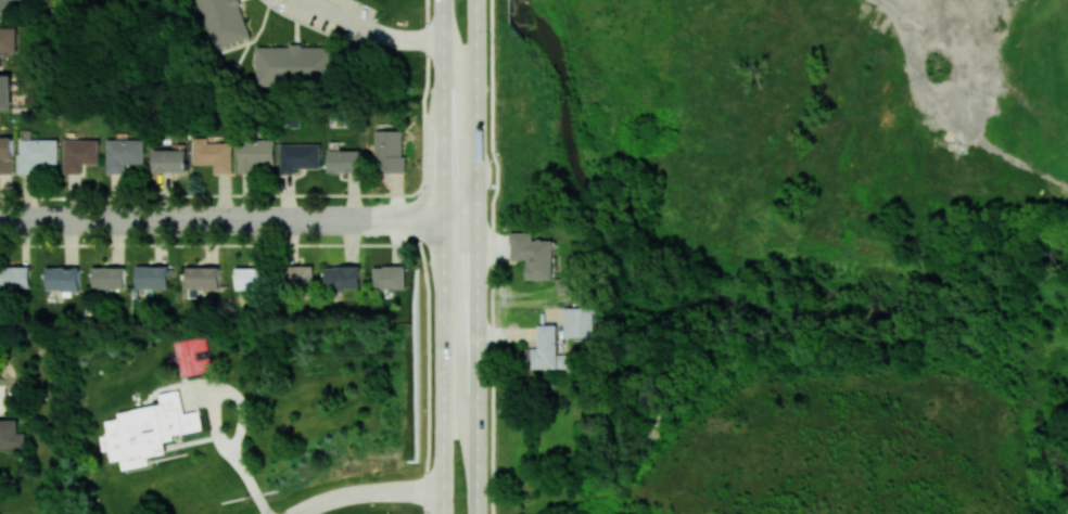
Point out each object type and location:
building: (9, 4)
road: (476, 14)
building: (221, 21)
road: (373, 30)
park: (1008, 31)
building: (8, 39)
road: (936, 39)
building: (294, 64)
building: (5, 91)
road: (476, 114)
building: (389, 150)
park: (770, 150)
building: (7, 153)
building: (79, 153)
building: (124, 153)
building: (38, 154)
building: (214, 154)
building: (256, 155)
building: (300, 156)
building: (170, 159)
building: (345, 160)
road: (459, 183)
road: (209, 195)
road: (239, 218)
road: (209, 242)
building: (533, 254)
road: (422, 255)
road: (492, 256)
road: (443, 257)
building: (14, 275)
building: (297, 275)
building: (107, 277)
building: (152, 277)
building: (202, 277)
building: (342, 277)
building: (390, 277)
building: (62, 278)
building: (251, 278)
river: (704, 299)
building: (577, 321)
building: (546, 349)
road: (478, 357)
road: (225, 389)
park: (1055, 396)
building: (150, 431)
building: (11, 434)
river: (1050, 438)
road: (253, 486)
park: (1052, 490)
road: (351, 491)
road: (429, 491)

